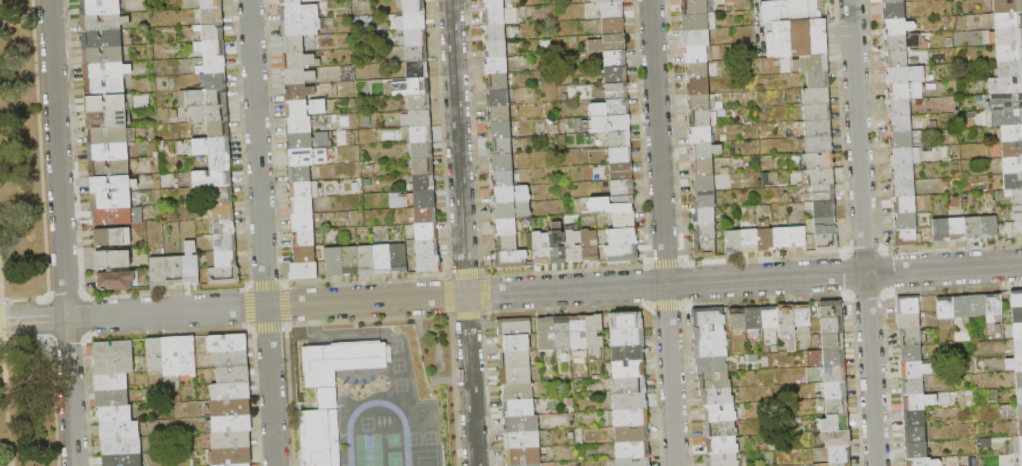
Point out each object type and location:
building: (607, 1)
building: (893, 1)
building: (291, 2)
building: (211, 4)
building: (492, 4)
building: (414, 6)
building: (1007, 6)
building: (100, 7)
building: (698, 7)
building: (895, 10)
building: (612, 11)
building: (291, 12)
building: (212, 17)
building: (502, 17)
building: (415, 21)
building: (1008, 21)
building: (103, 22)
building: (699, 22)
building: (613, 27)
building: (792, 27)
building: (898, 27)
building: (302, 28)
building: (213, 32)
building: (495, 33)
building: (1009, 37)
building: (413, 38)
building: (696, 38)
building: (102, 39)
building: (895, 43)
building: (608, 44)
building: (293, 45)
building: (211, 49)
building: (495, 49)
building: (1009, 53)
building: (416, 54)
building: (102, 55)
building: (699, 55)
building: (615, 59)
building: (896, 59)
building: (300, 61)
building: (811, 64)
building: (212, 66)
building: (496, 66)
building: (1010, 69)
building: (417, 70)
building: (107, 71)
building: (697, 71)
building: (616, 75)
building: (905, 75)
building: (298, 77)
building: (818, 80)
building: (214, 81)
building: (499, 82)
building: (1006, 85)
building: (408, 86)
building: (698, 87)
building: (104, 88)
building: (616, 91)
building: (905, 92)
building: (298, 93)
building: (816, 96)
building: (498, 98)
building: (204, 99)
building: (1005, 101)
building: (108, 103)
building: (419, 103)
building: (703, 103)
building: (305, 108)
building: (899, 108)
building: (609, 109)
building: (817, 112)
building: (499, 114)
building: (208, 115)
building: (1006, 117)
building: (417, 119)
building: (702, 119)
building: (106, 120)
building: (308, 124)
building: (619, 124)
building: (901, 124)
building: (818, 129)
building: (219, 130)
building: (500, 131)
building: (1011, 133)
building: (421, 135)
building: (109, 136)
building: (702, 136)
building: (620, 140)
building: (901, 140)
building: (308, 141)
building: (816, 146)
building: (212, 147)
building: (500, 147)
building: (1012, 149)
building: (422, 151)
building: (705, 151)
building: (108, 152)
building: (620, 156)
building: (909, 156)
building: (308, 158)
building: (818, 161)
building: (220, 162)
building: (501, 163)
building: (1012, 166)
building: (422, 167)
building: (702, 168)
building: (109, 169)
building: (621, 172)
building: (903, 173)
building: (300, 174)
building: (817, 177)
building: (212, 179)
building: (503, 179)
building: (1013, 181)
building: (424, 183)
building: (112, 184)
building: (703, 184)
building: (622, 189)
building: (903, 189)
building: (301, 190)
building: (824, 193)
building: (222, 195)
building: (511, 195)
building: (1011, 196)
building: (424, 199)
building: (111, 200)
building: (704, 200)
building: (611, 205)
building: (904, 205)
building: (302, 206)
building: (825, 209)
building: (223, 211)
building: (512, 211)
building: (1018, 213)
building: (115, 216)
building: (425, 216)
building: (704, 217)
building: (624, 220)
building: (906, 221)
building: (303, 222)
building: (825, 226)
building: (224, 227)
building: (505, 227)
building: (989, 227)
building: (973, 228)
building: (940, 229)
building: (957, 229)
building: (1018, 230)
building: (426, 232)
road: (462, 232)
road: (663, 232)
road: (61, 233)
road: (262, 233)
building: (705, 233)
road: (862, 233)
building: (112, 237)
building: (622, 237)
building: (765, 237)
building: (907, 237)
building: (781, 238)
building: (798, 238)
building: (303, 239)
building: (733, 241)
building: (749, 241)
building: (828, 242)
building: (224, 243)
building: (506, 244)
building: (557, 245)
building: (573, 245)
building: (589, 245)
building: (427, 248)
building: (541, 248)
park: (31, 249)
building: (705, 249)
building: (621, 253)
building: (304, 255)
building: (398, 258)
building: (223, 259)
building: (382, 259)
building: (112, 260)
building: (511, 260)
building: (350, 261)
building: (366, 261)
building: (334, 262)
building: (428, 264)
building: (190, 265)
building: (174, 271)
building: (303, 271)
building: (157, 272)
building: (220, 276)
road: (744, 279)
building: (117, 281)
road: (0, 290)
road: (416, 298)
building: (1016, 299)
road: (316, 303)
building: (908, 305)
building: (977, 306)
building: (962, 307)
building: (993, 307)
building: (946, 308)
road: (217, 309)
building: (831, 309)
building: (802, 315)
building: (1017, 315)
road: (84, 316)
building: (709, 316)
building: (770, 318)
building: (737, 320)
building: (626, 321)
building: (754, 321)
building: (909, 321)
road: (2, 322)
building: (787, 325)
building: (832, 326)
building: (514, 327)
building: (1017, 331)
building: (562, 332)
building: (578, 332)
building: (709, 333)
building: (546, 334)
building: (595, 334)
building: (627, 337)
building: (910, 337)
building: (833, 342)
building: (227, 343)
building: (514, 344)
building: (1018, 346)
building: (710, 349)
building: (113, 350)
building: (628, 352)
building: (911, 353)
building: (154, 354)
building: (171, 356)
building: (188, 356)
building: (826, 358)
building: (232, 359)
building: (515, 360)
building: (1015, 363)
building: (335, 364)
building: (711, 365)
building: (114, 366)
building: (629, 369)
building: (912, 370)
building: (233, 375)
building: (835, 375)
building: (515, 376)
building: (1019, 379)
building: (111, 382)
building: (714, 382)
building: (630, 386)
building: (912, 386)
building: (836, 390)
building: (230, 392)
building: (518, 392)
building: (1019, 395)
building: (717, 397)
building: (111, 398)
building: (630, 402)
building: (918, 402)
road: (6, 405)
building: (837, 406)
building: (231, 408)
building: (519, 408)
building: (1020, 411)
building: (719, 413)
building: (115, 414)
building: (631, 417)
building: (914, 418)
building: (835, 423)
building: (231, 424)
building: (521, 424)
building: (1020, 428)
building: (721, 429)
building: (120, 430)
building: (423, 434)
building: (632, 434)
building: (321, 435)
building: (916, 435)
building: (836, 439)
building: (522, 440)
building: (231, 441)
building: (1020, 444)
building: (721, 445)
building: (121, 446)
building: (633, 450)
building: (916, 451)
building: (839, 455)
building: (230, 457)
building: (523, 457)
building: (1021, 458)
building: (122, 460)
building: (722, 460)
building: (633, 462)
building: (923, 462)
building: (840, 464)
building: (238, 465)
building: (530, 465)

